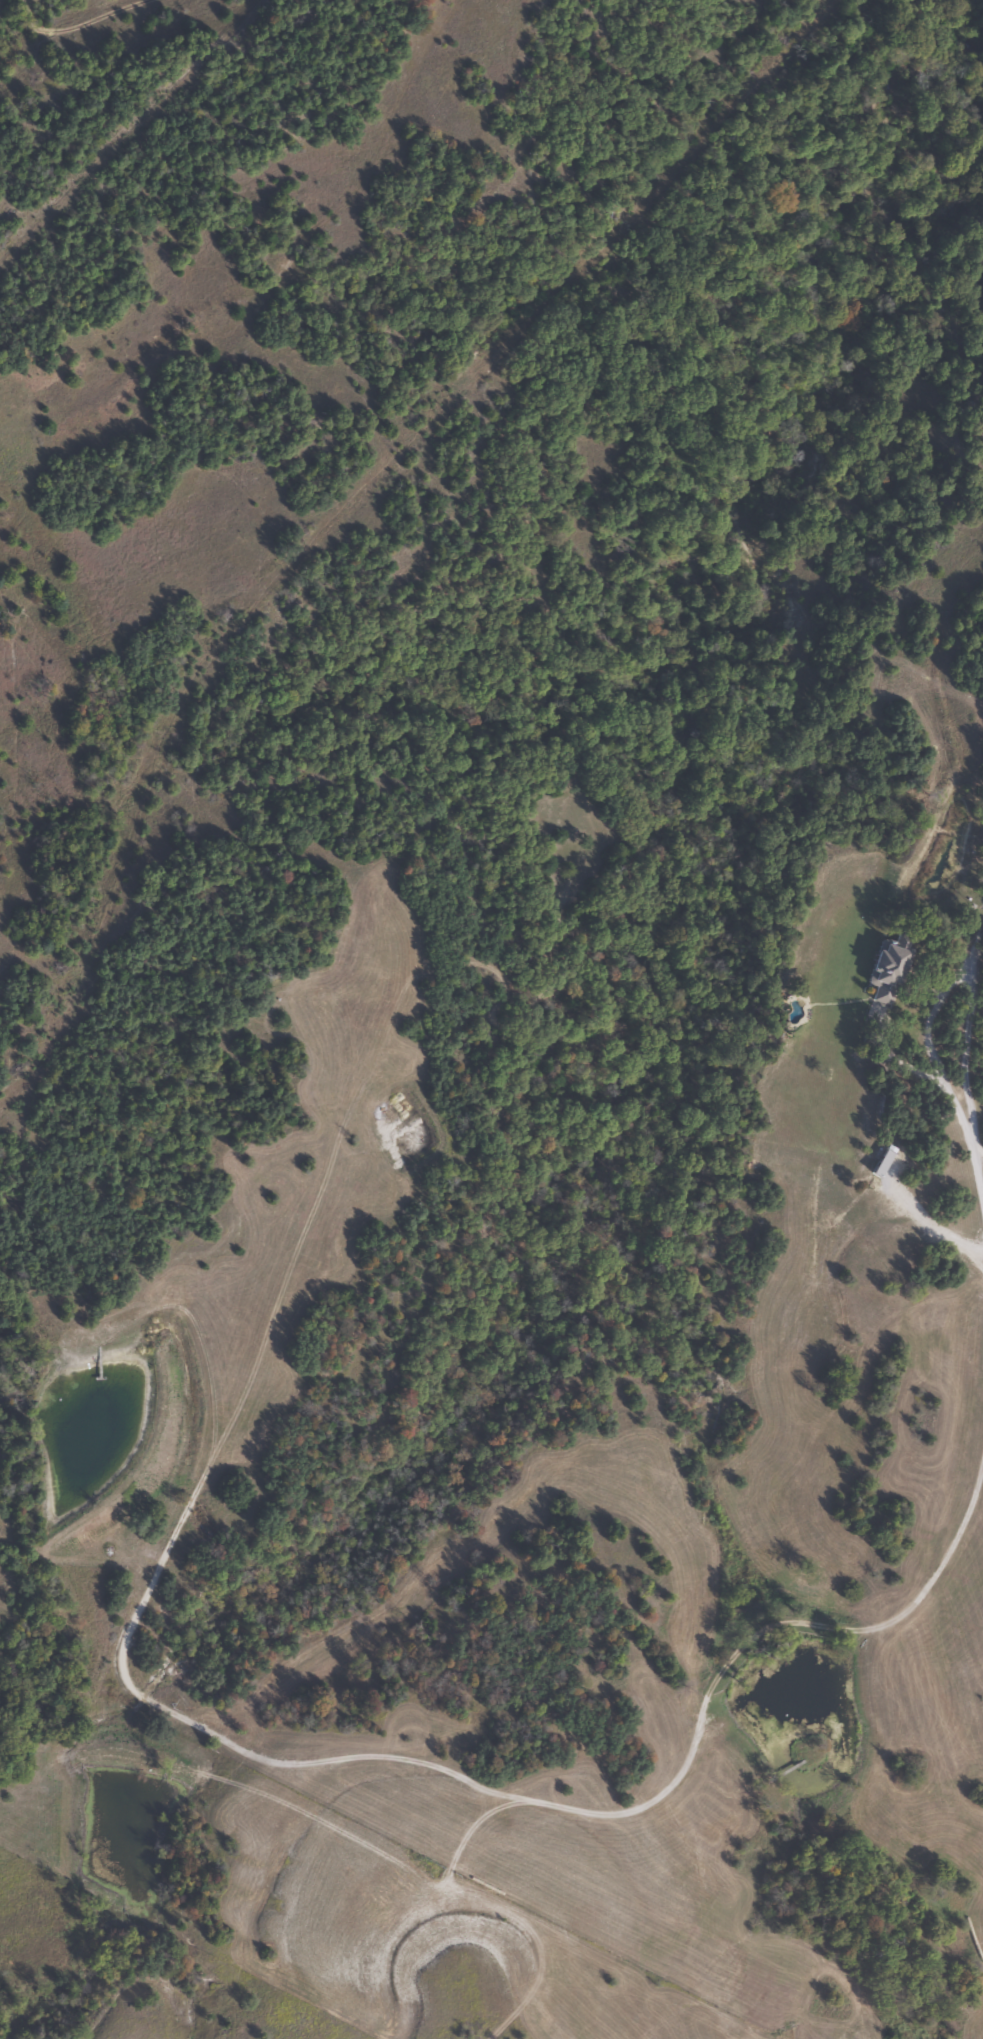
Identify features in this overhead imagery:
building: (885, 969)
building: (885, 1157)

